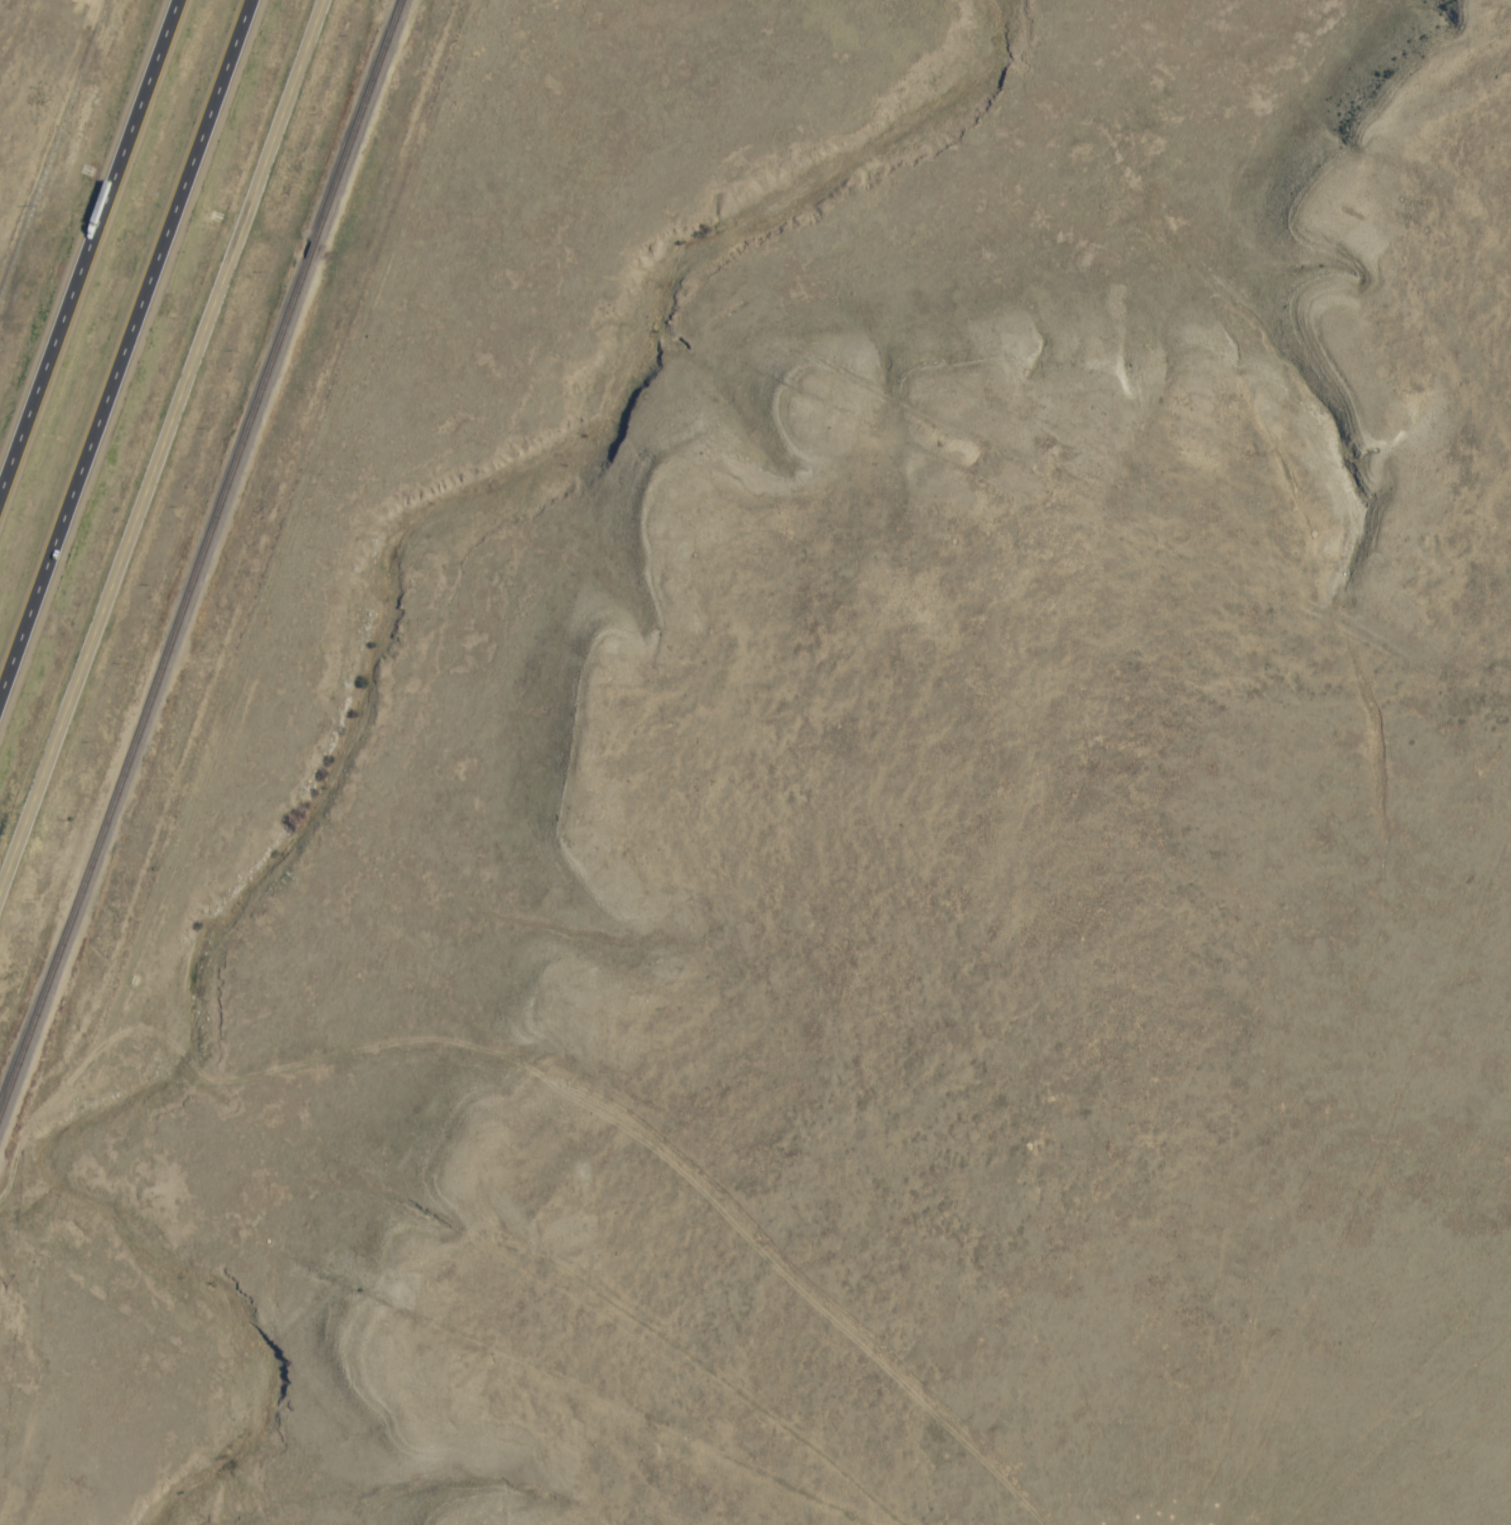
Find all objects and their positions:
railway: (358, 122)
road: (86, 240)
railway: (310, 254)
road: (127, 354)
road: (160, 451)
railway: (152, 690)
road: (450, 1239)

